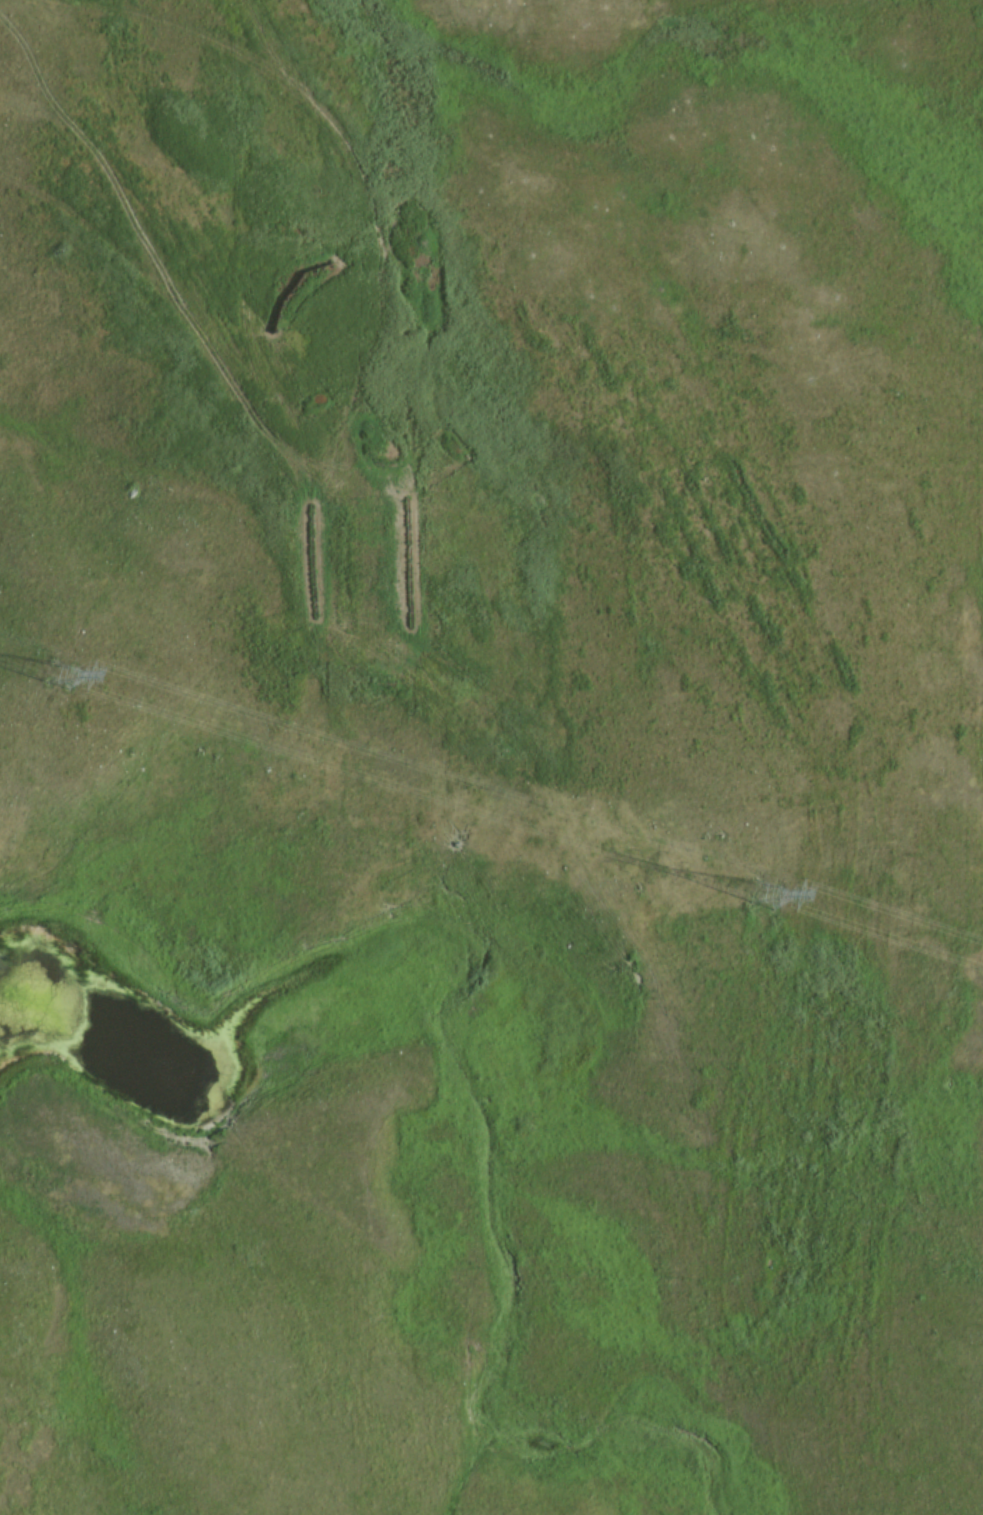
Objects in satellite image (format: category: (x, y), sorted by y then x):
power tower: (58, 676)
power tower: (764, 893)

